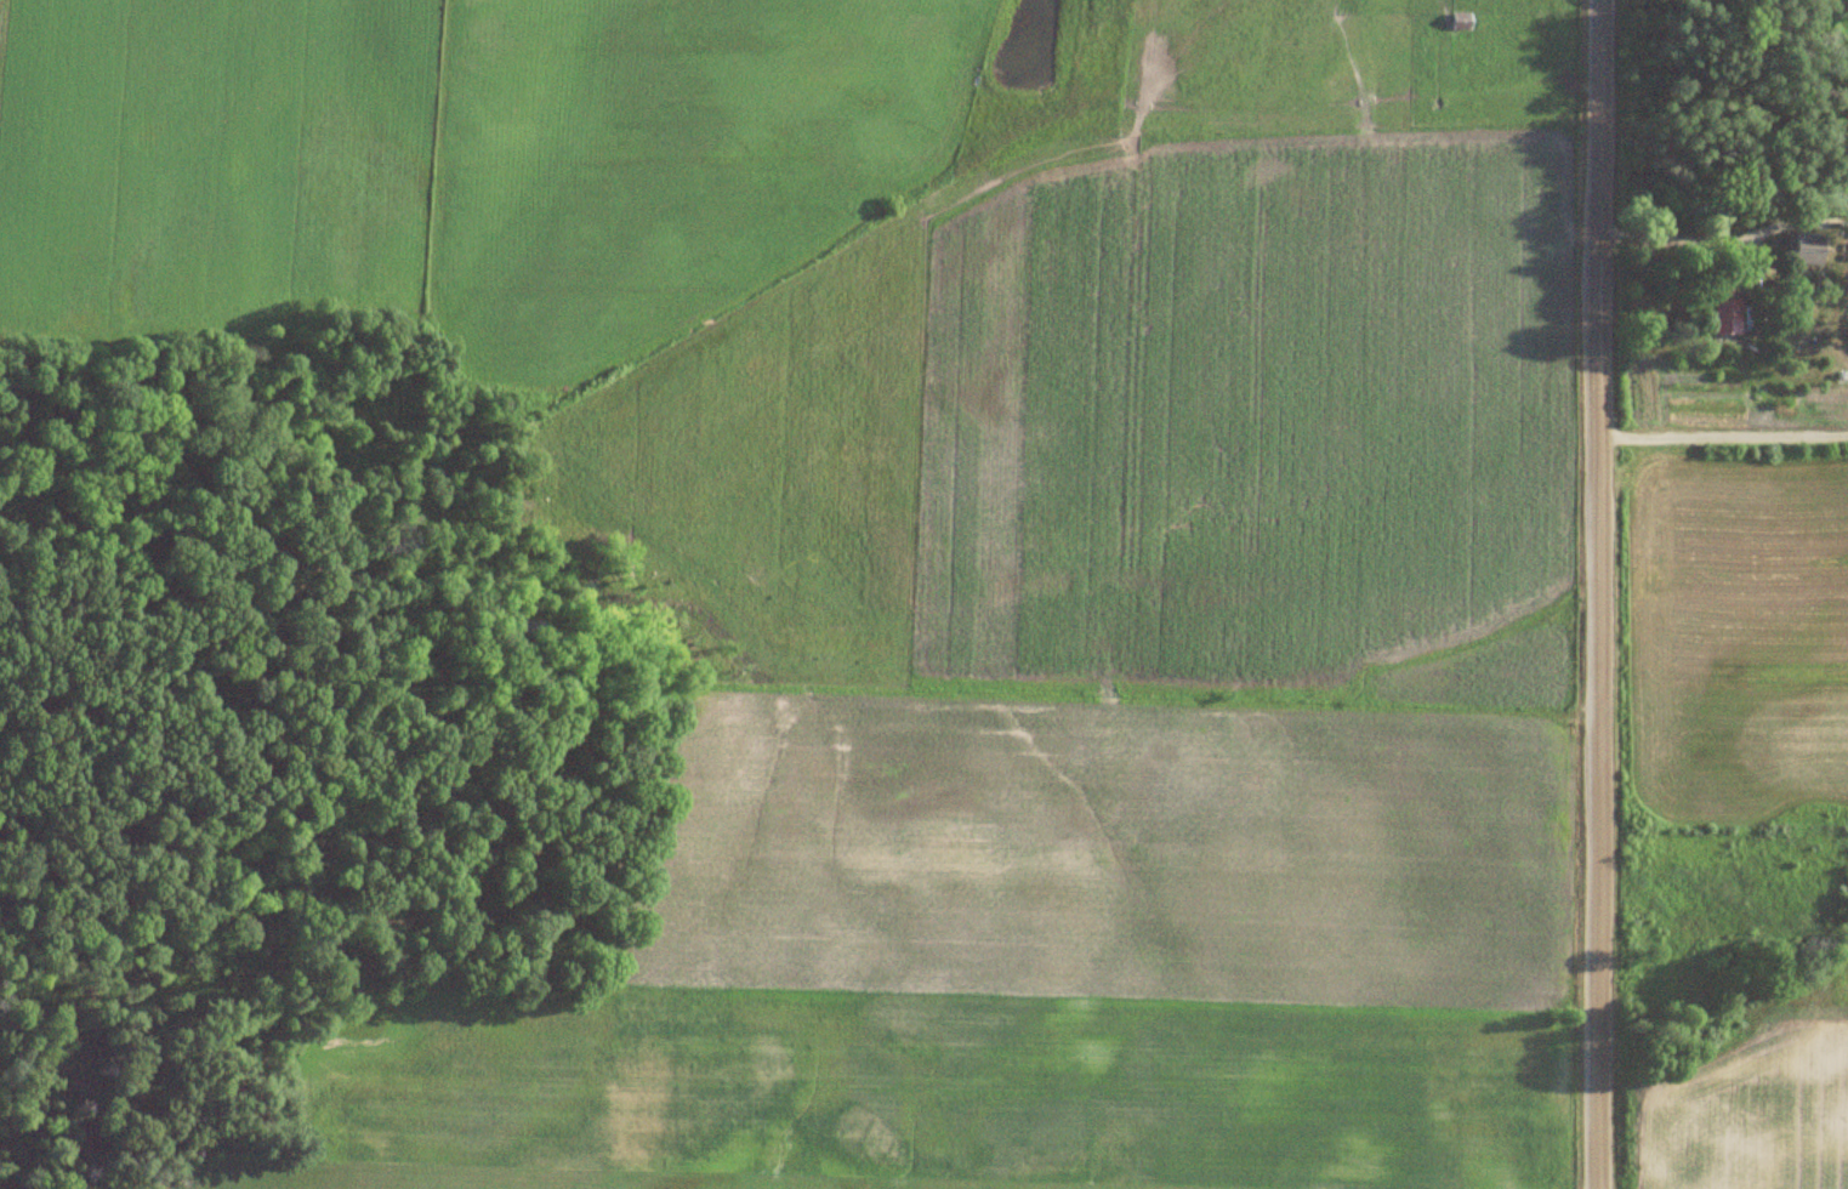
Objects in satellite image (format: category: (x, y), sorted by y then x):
building: (1807, 248)
road: (1582, 594)

